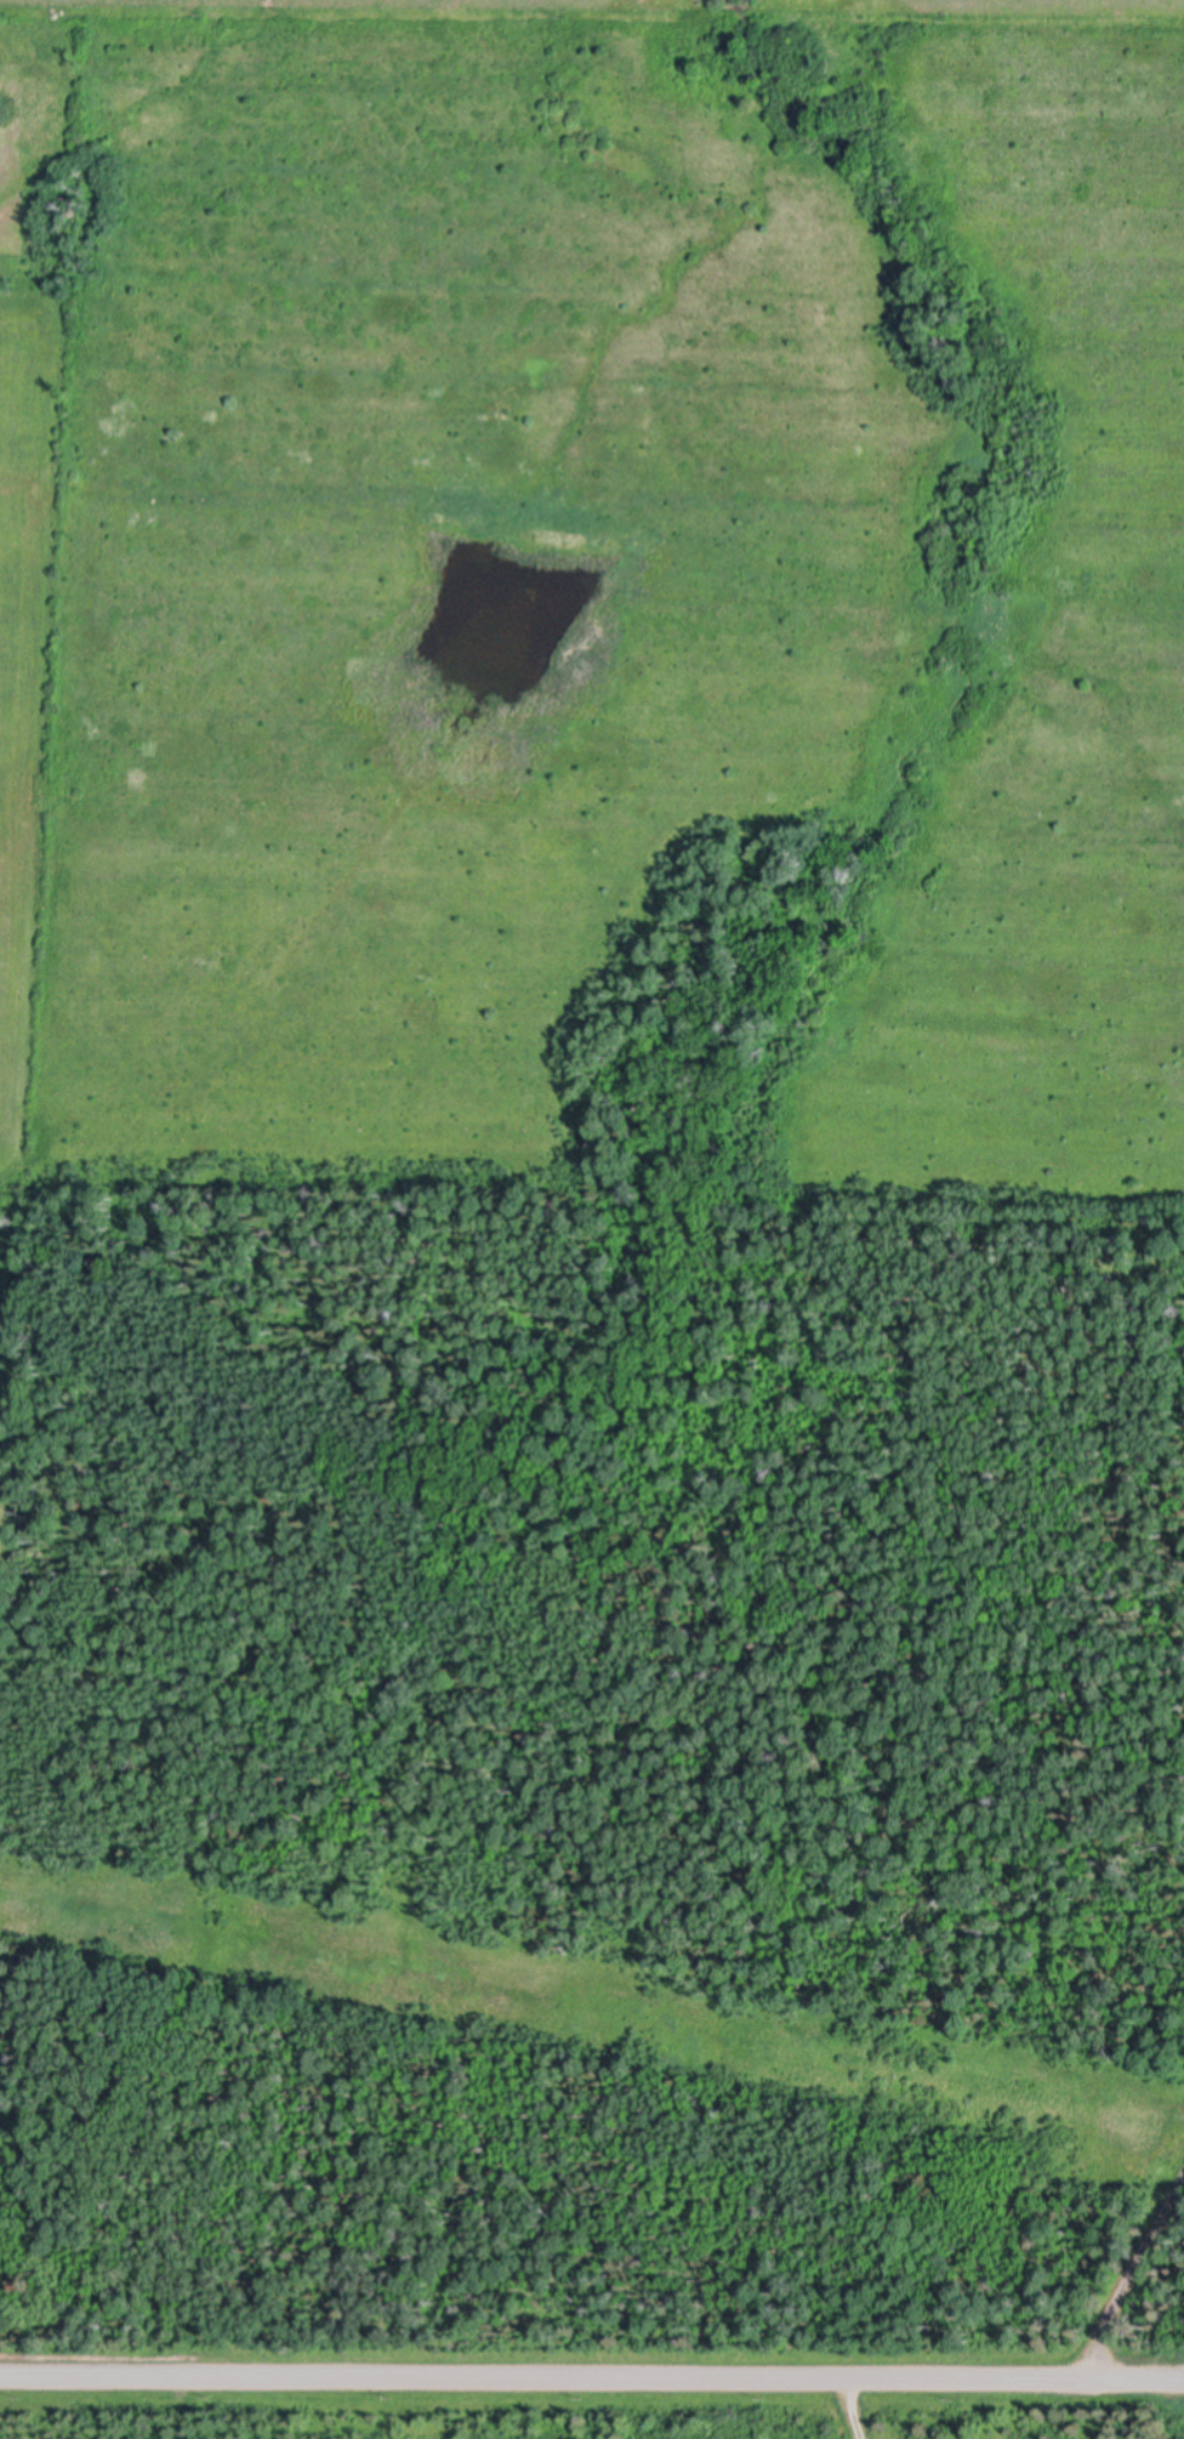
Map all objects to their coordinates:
road: (1132, 2275)
road: (592, 2376)
road: (852, 2407)

